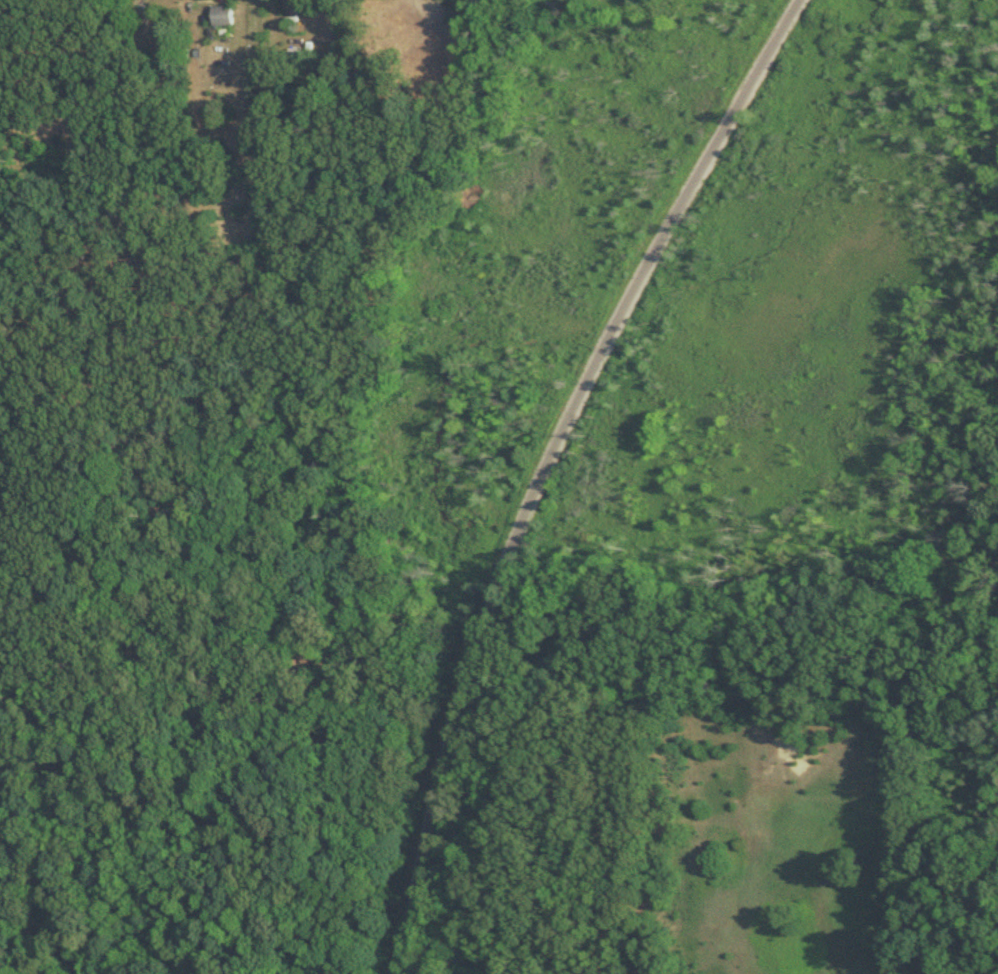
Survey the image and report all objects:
building: (223, 17)
road: (542, 466)

